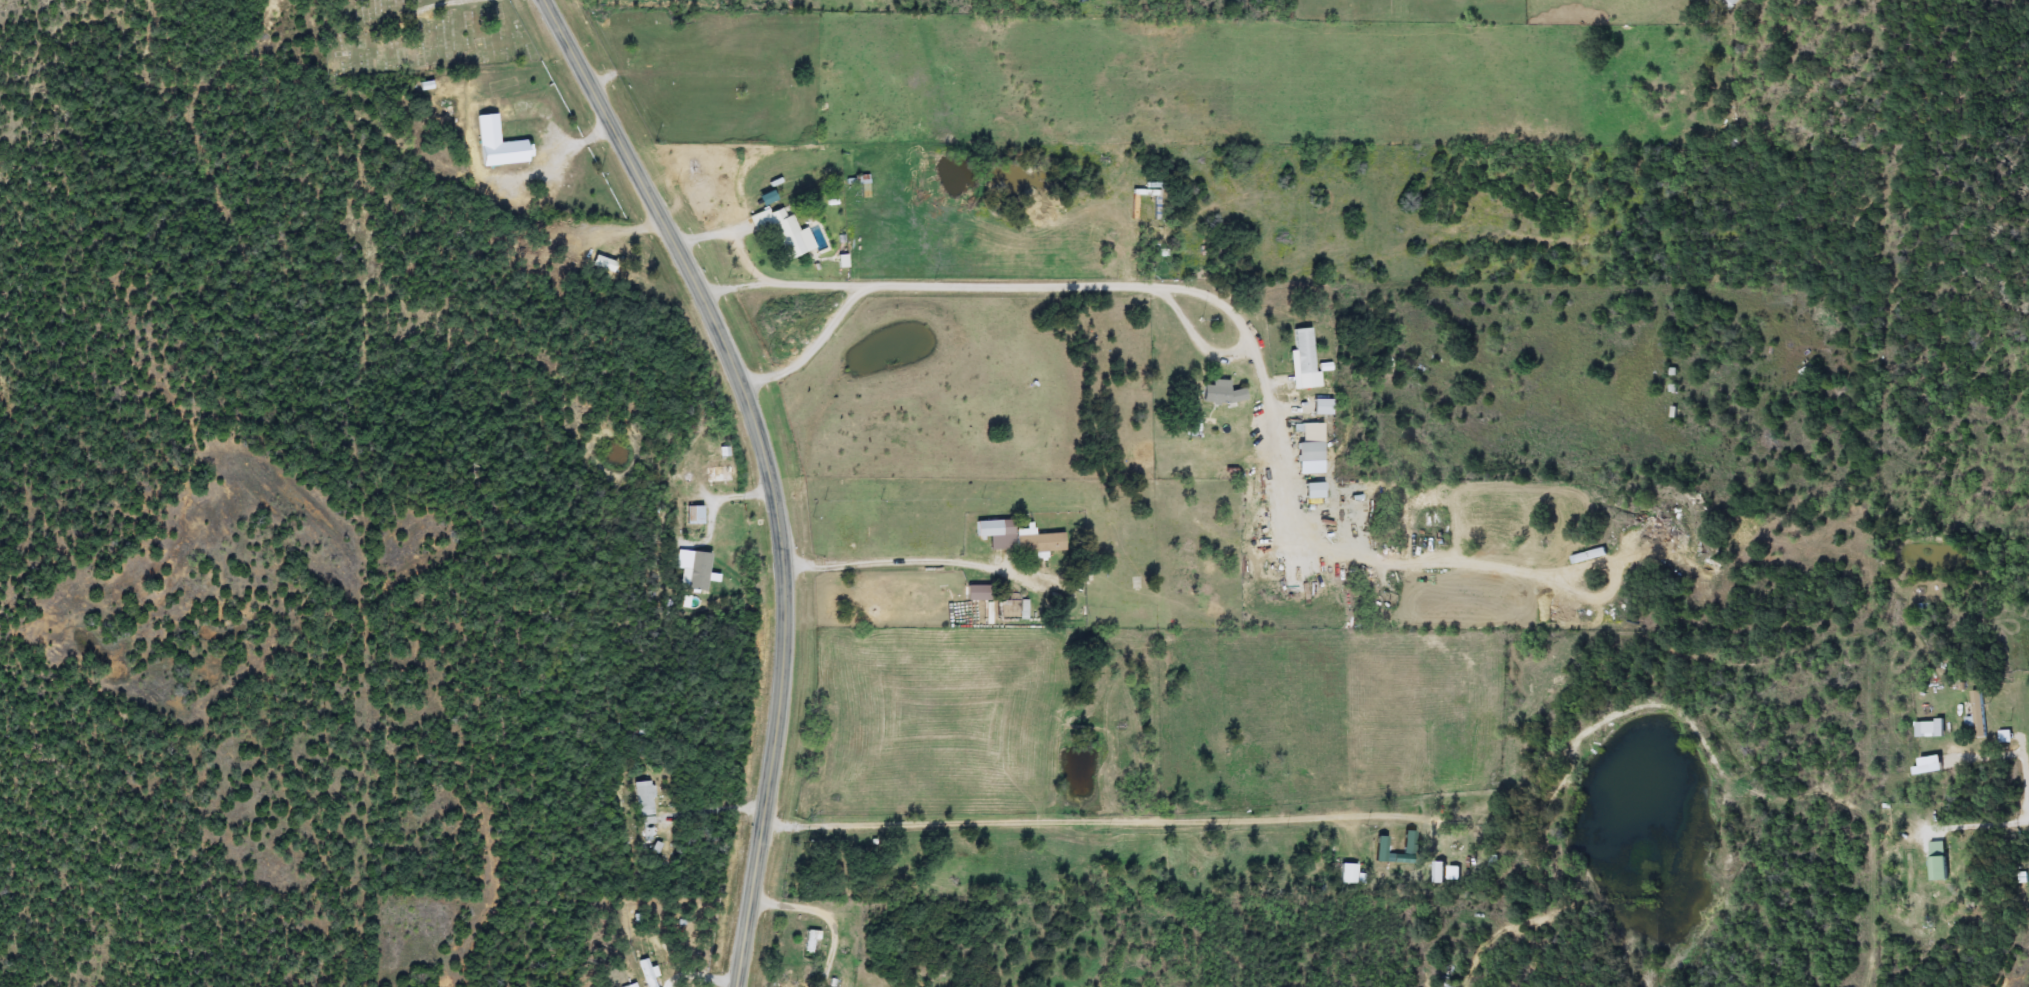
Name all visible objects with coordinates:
park: (418, 36)
building: (499, 145)
road: (556, 153)
building: (787, 233)
road: (712, 234)
road: (749, 258)
building: (600, 264)
road: (778, 285)
road: (1228, 331)
building: (1304, 359)
building: (1223, 393)
building: (1323, 407)
building: (1310, 441)
road: (767, 470)
building: (720, 474)
building: (1315, 490)
building: (696, 515)
building: (990, 529)
building: (1039, 542)
road: (917, 559)
building: (700, 571)
building: (1979, 714)
building: (1931, 729)
building: (646, 807)
road: (714, 808)
road: (1986, 818)
road: (1090, 821)
building: (1939, 861)
road: (823, 914)
building: (810, 941)
building: (796, 986)

